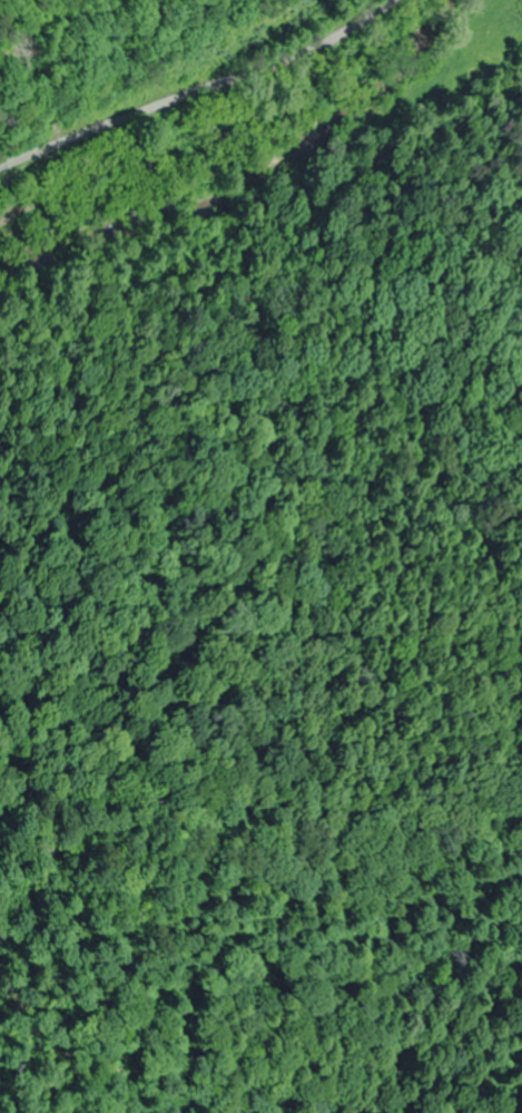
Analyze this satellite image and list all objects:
road: (201, 91)

